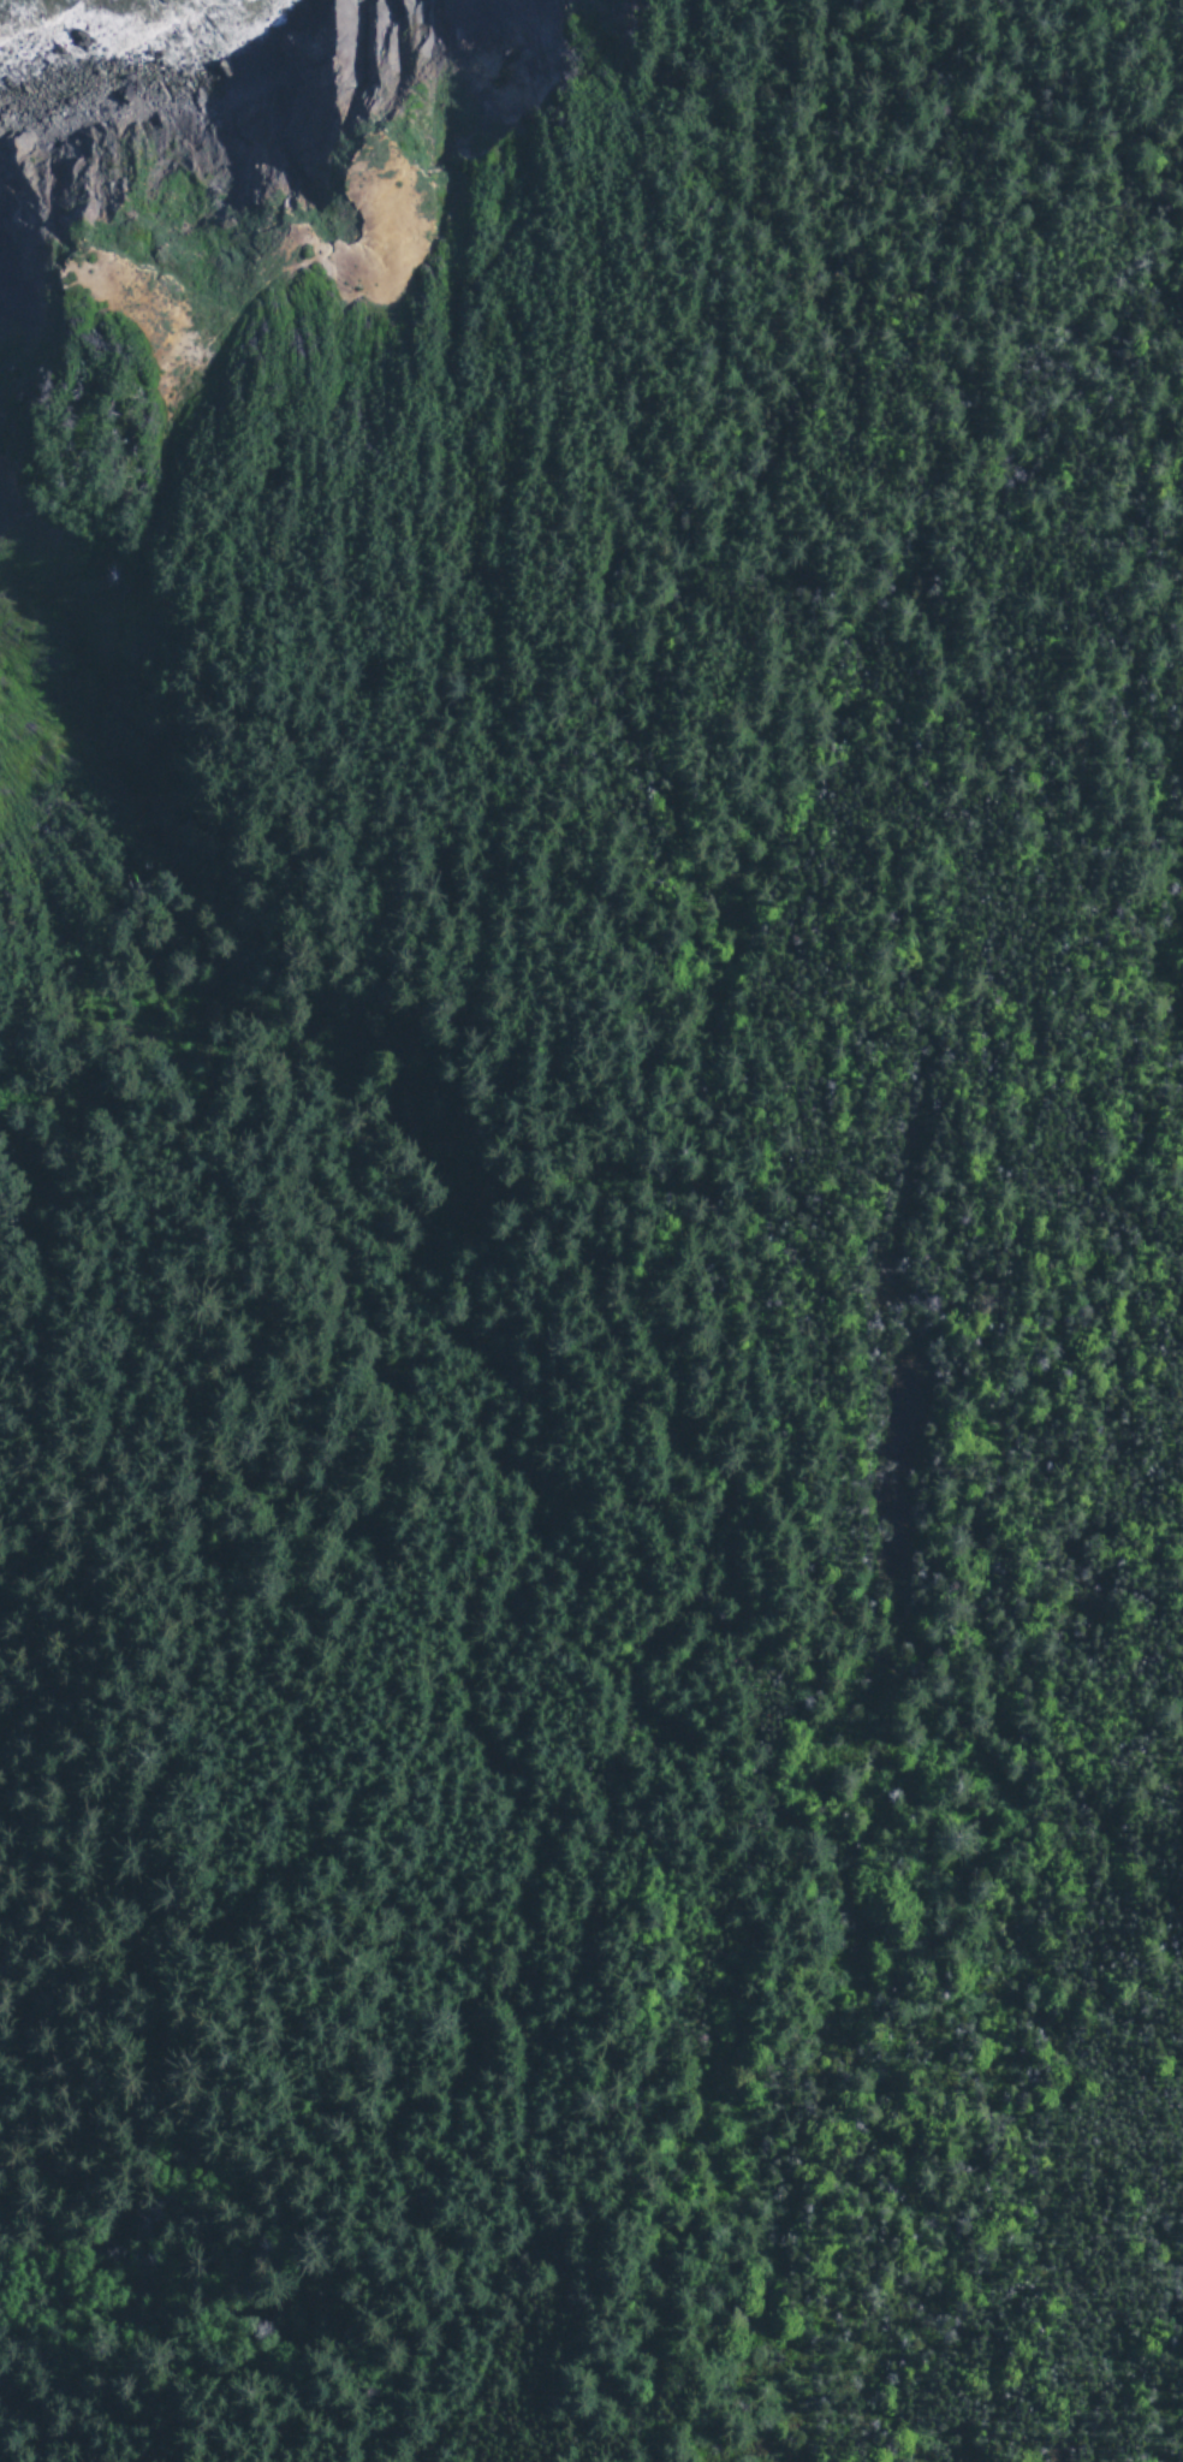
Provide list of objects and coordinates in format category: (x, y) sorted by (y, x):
road: (409, 251)
road: (519, 737)
road: (576, 1932)

